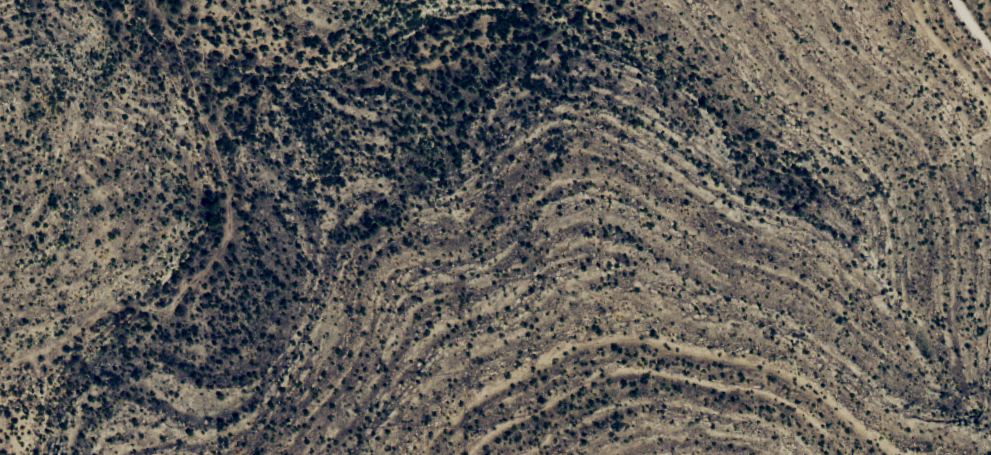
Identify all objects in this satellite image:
road: (960, 49)

